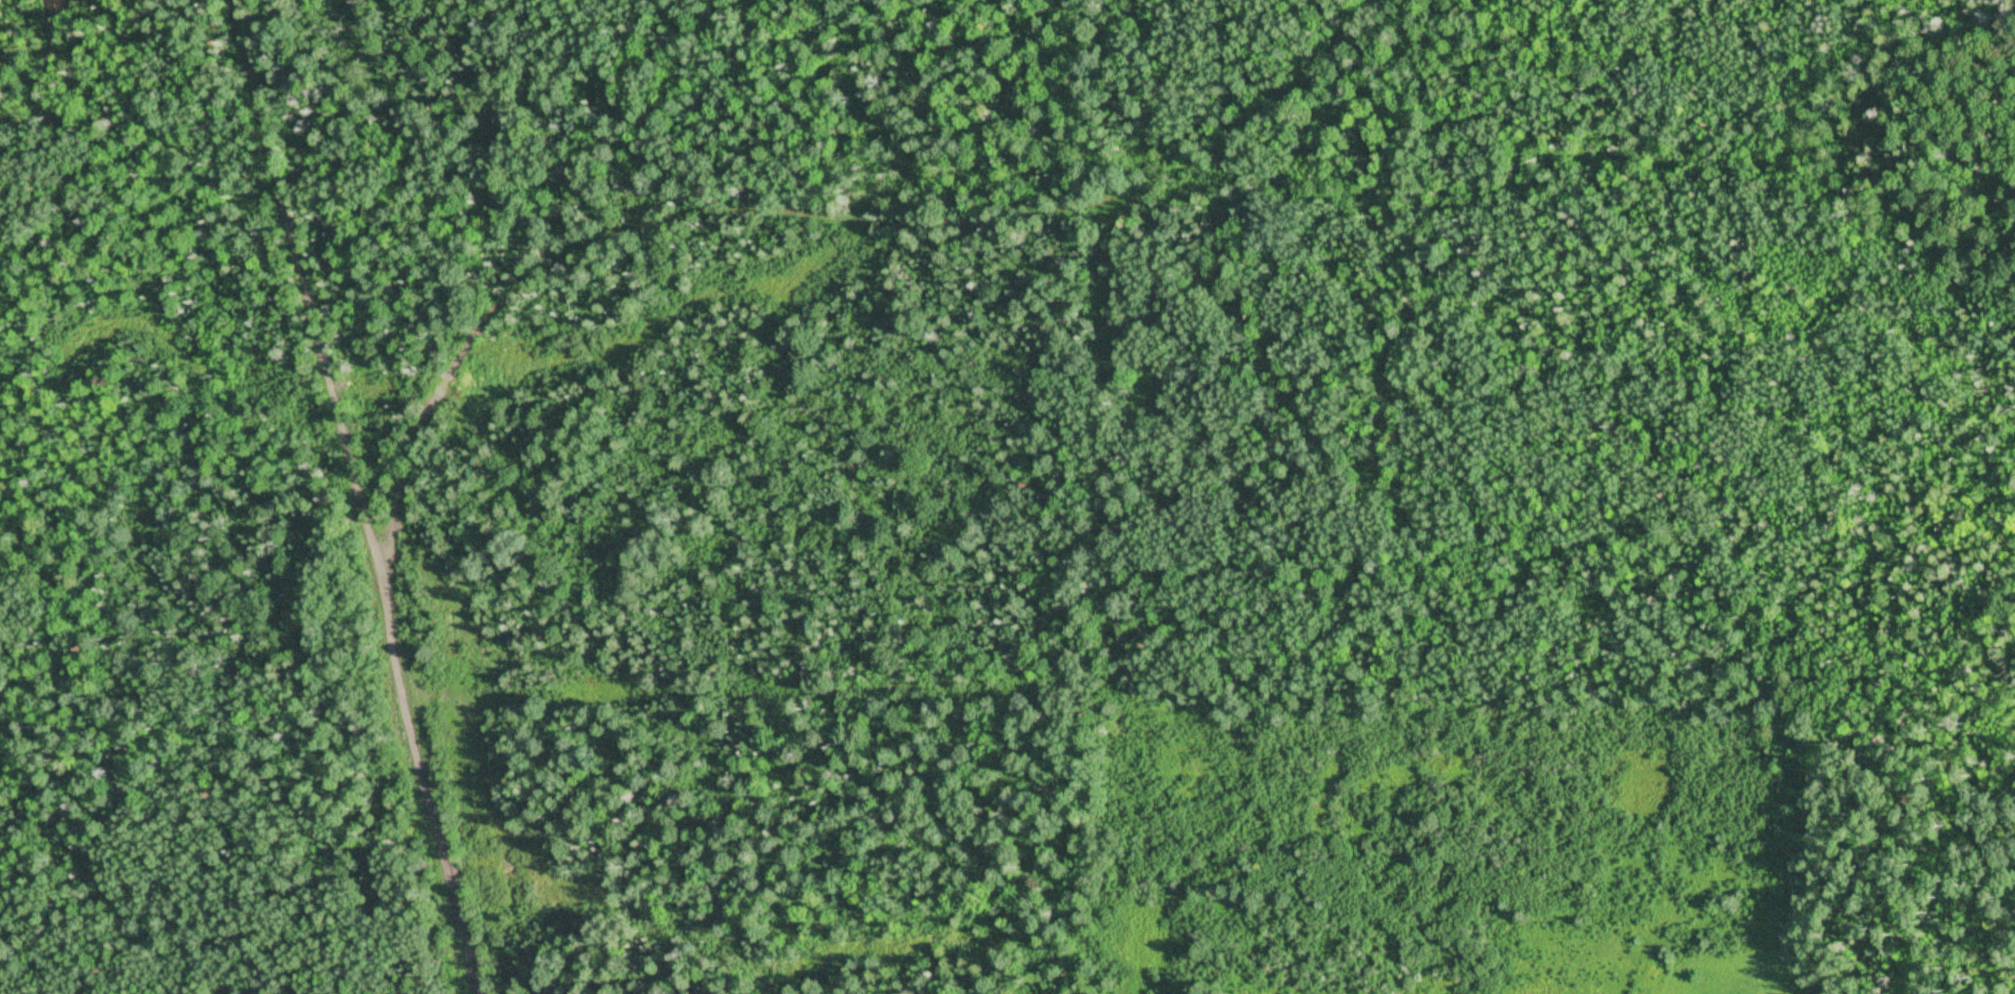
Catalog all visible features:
road: (1241, 123)
road: (625, 223)
road: (358, 496)

